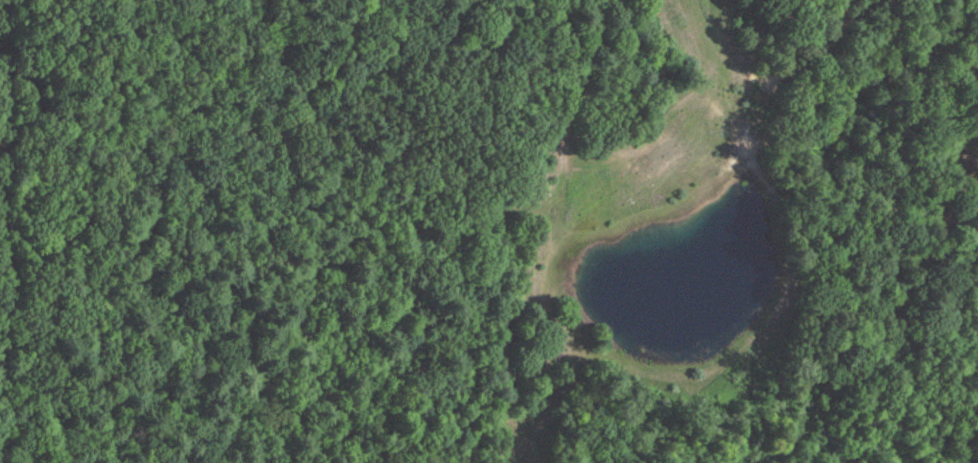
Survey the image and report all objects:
road: (525, 226)

